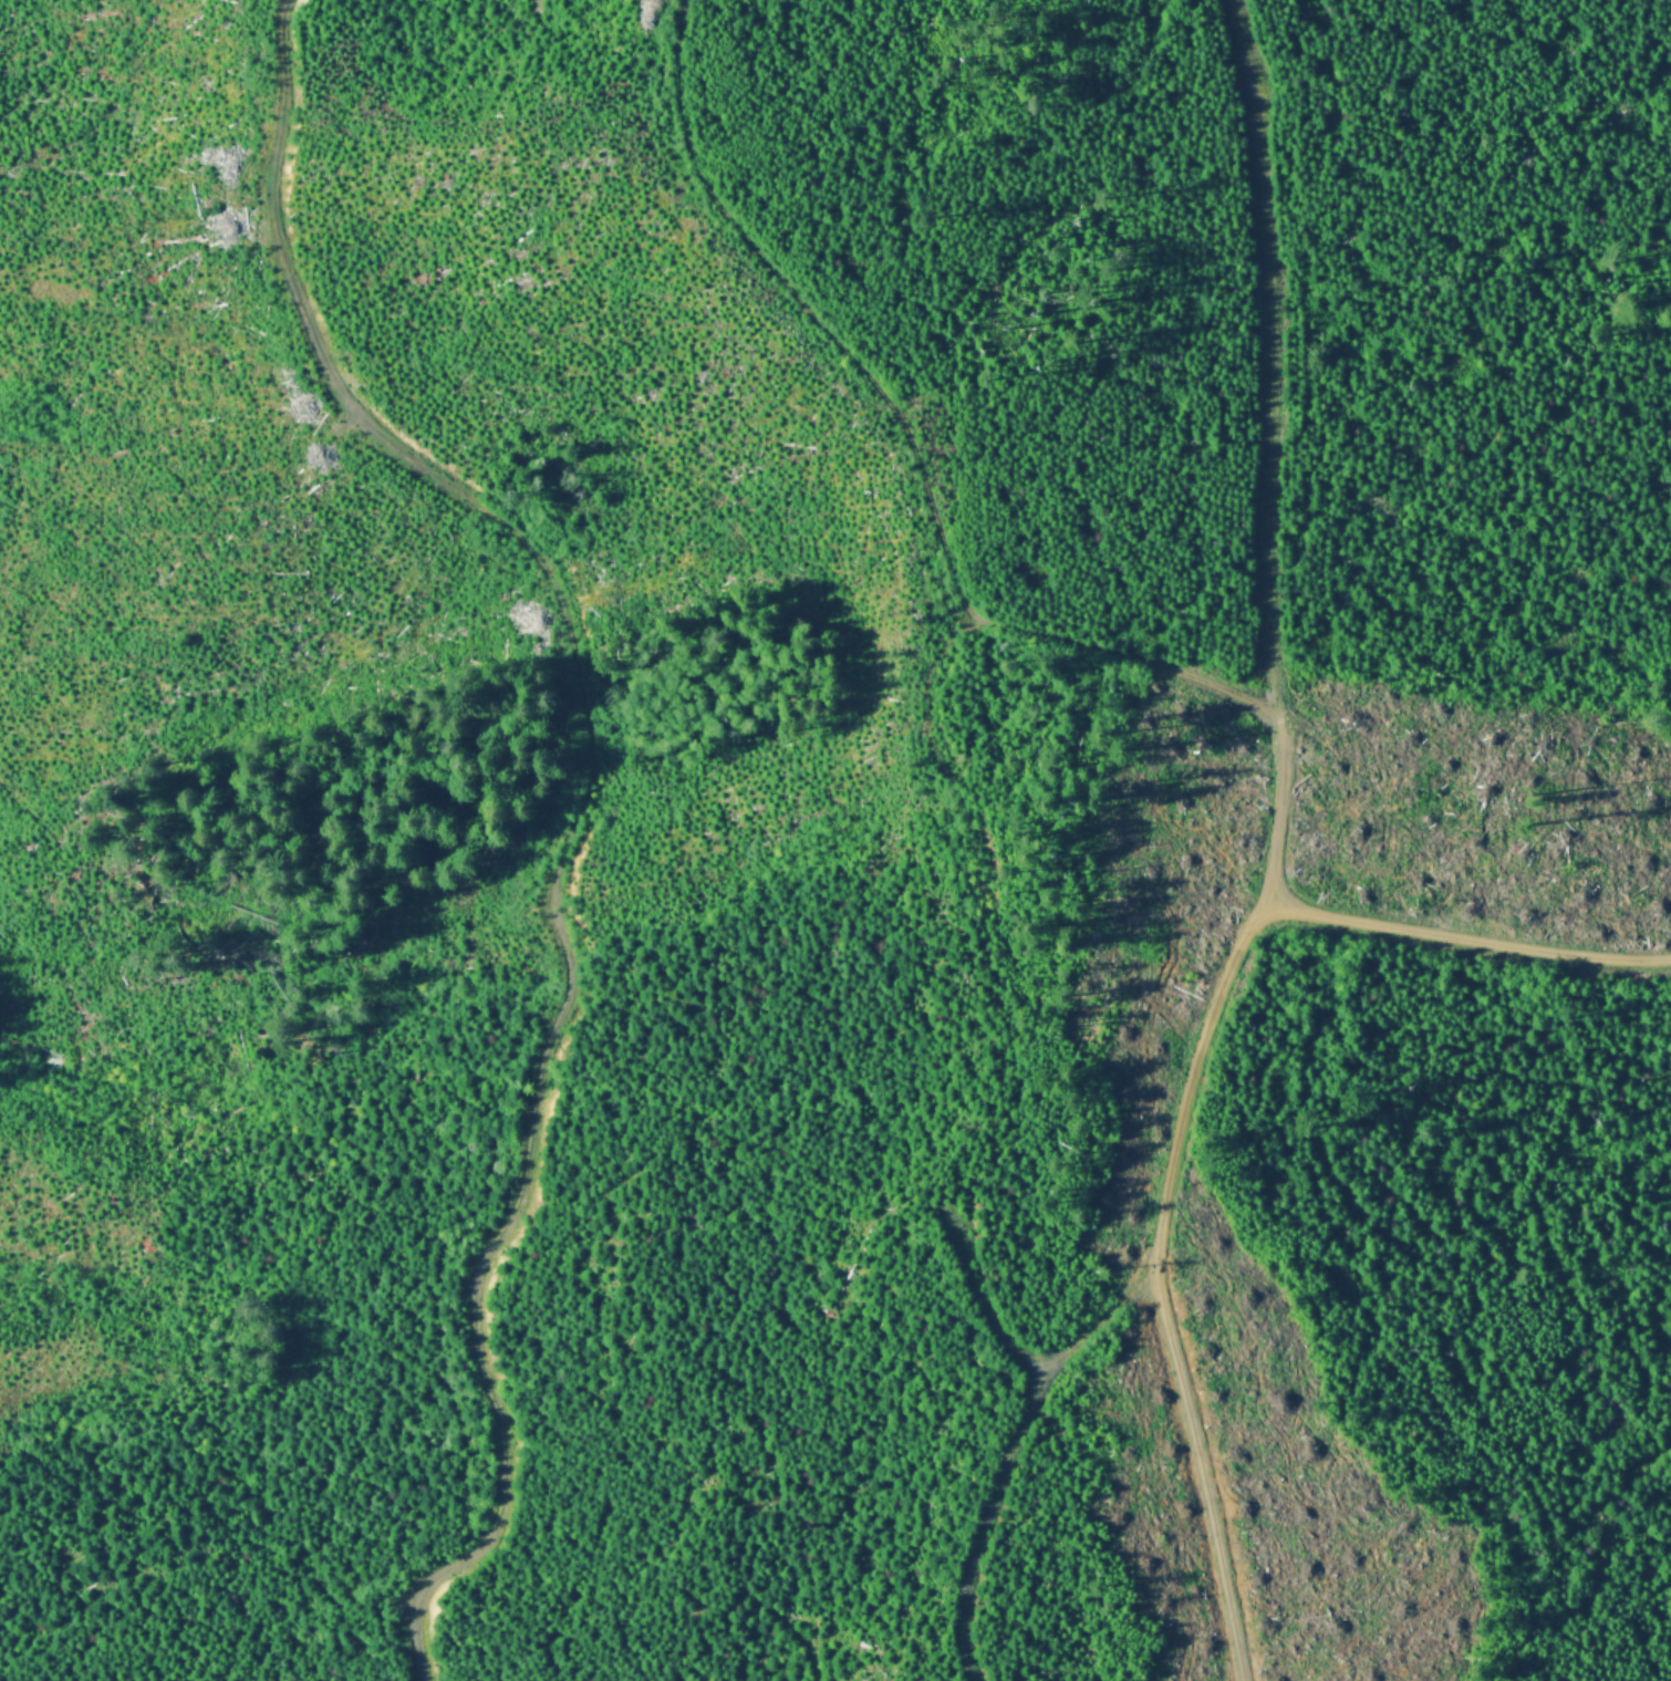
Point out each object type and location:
road: (1296, 460)
road: (1301, 1128)

